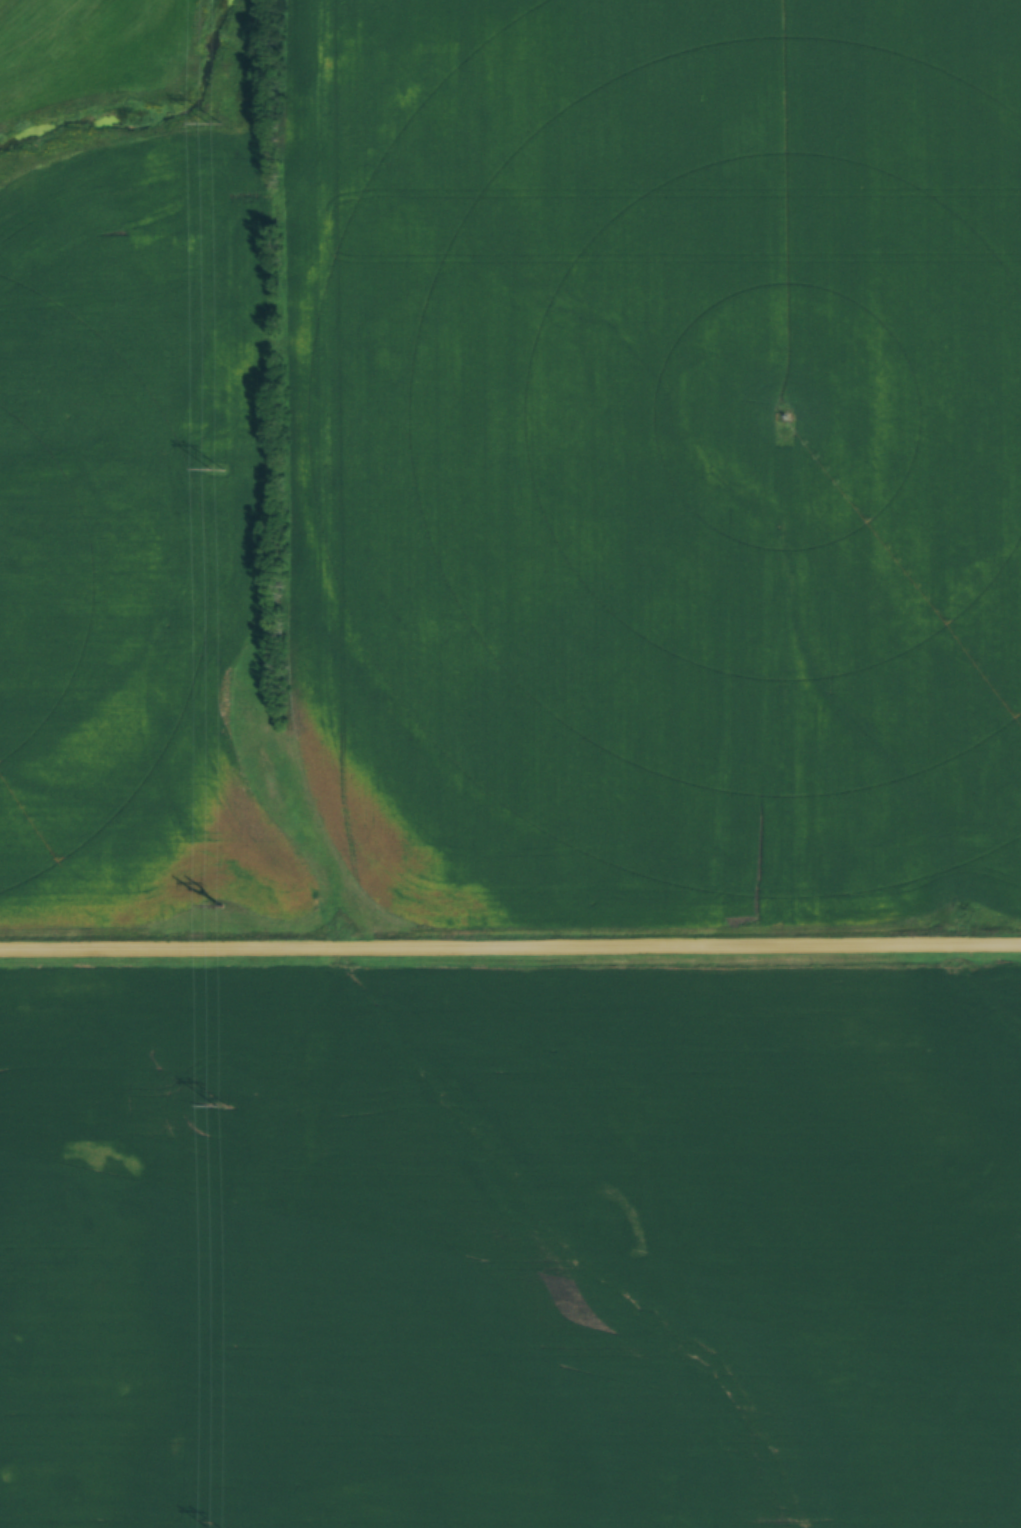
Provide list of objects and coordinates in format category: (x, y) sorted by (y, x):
power tower: (213, 124)
power tower: (218, 470)
power tower: (222, 906)
road: (510, 951)
power tower: (222, 1107)

